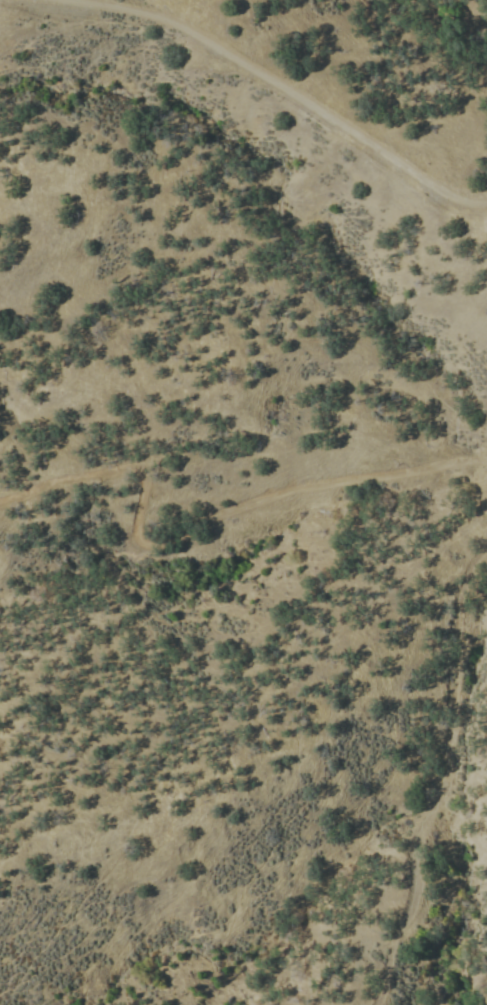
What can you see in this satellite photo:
road: (285, 88)

